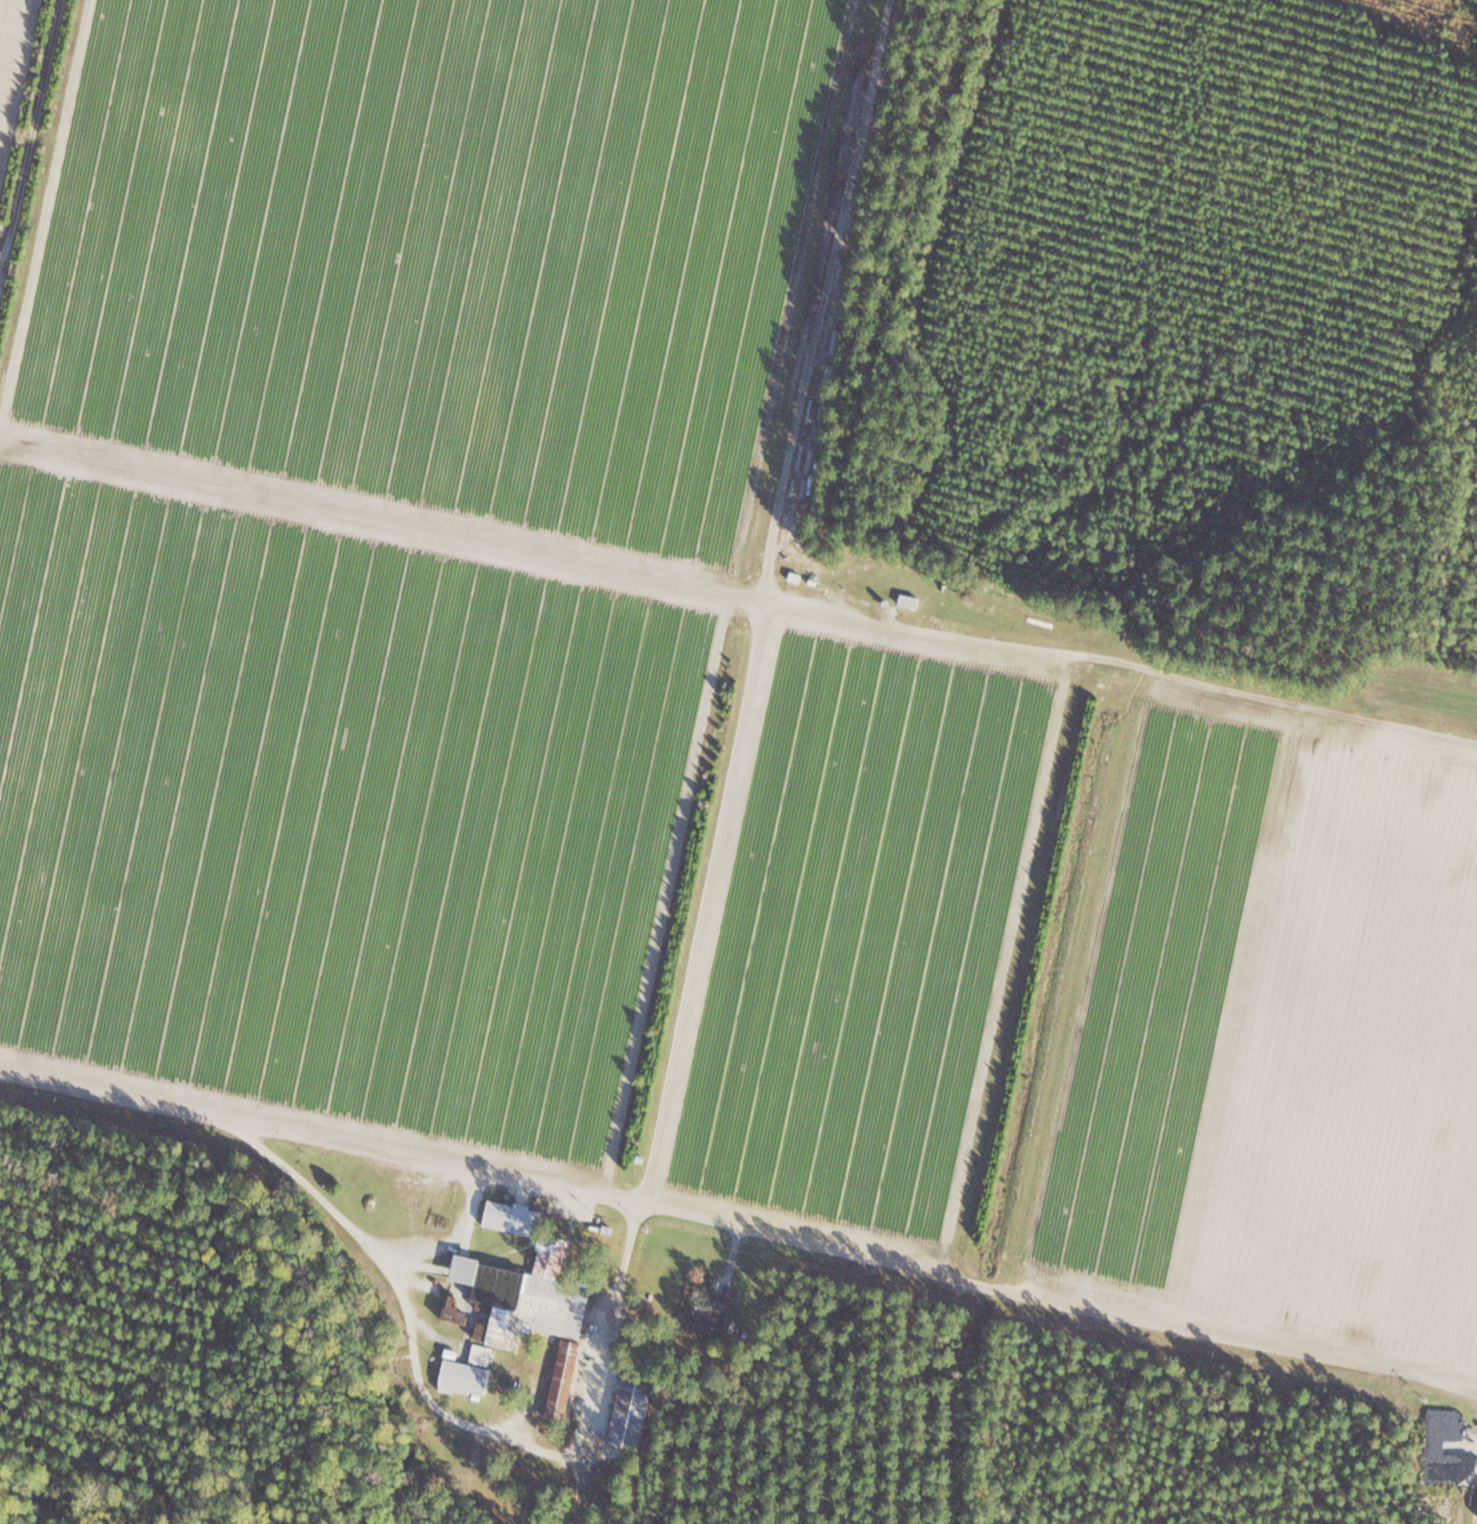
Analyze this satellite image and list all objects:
building: (758, 527)
building: (908, 601)
building: (513, 1217)
road: (739, 1224)
building: (719, 1303)
building: (534, 1308)
building: (706, 1326)
building: (465, 1378)
road: (442, 1410)
building: (631, 1414)

